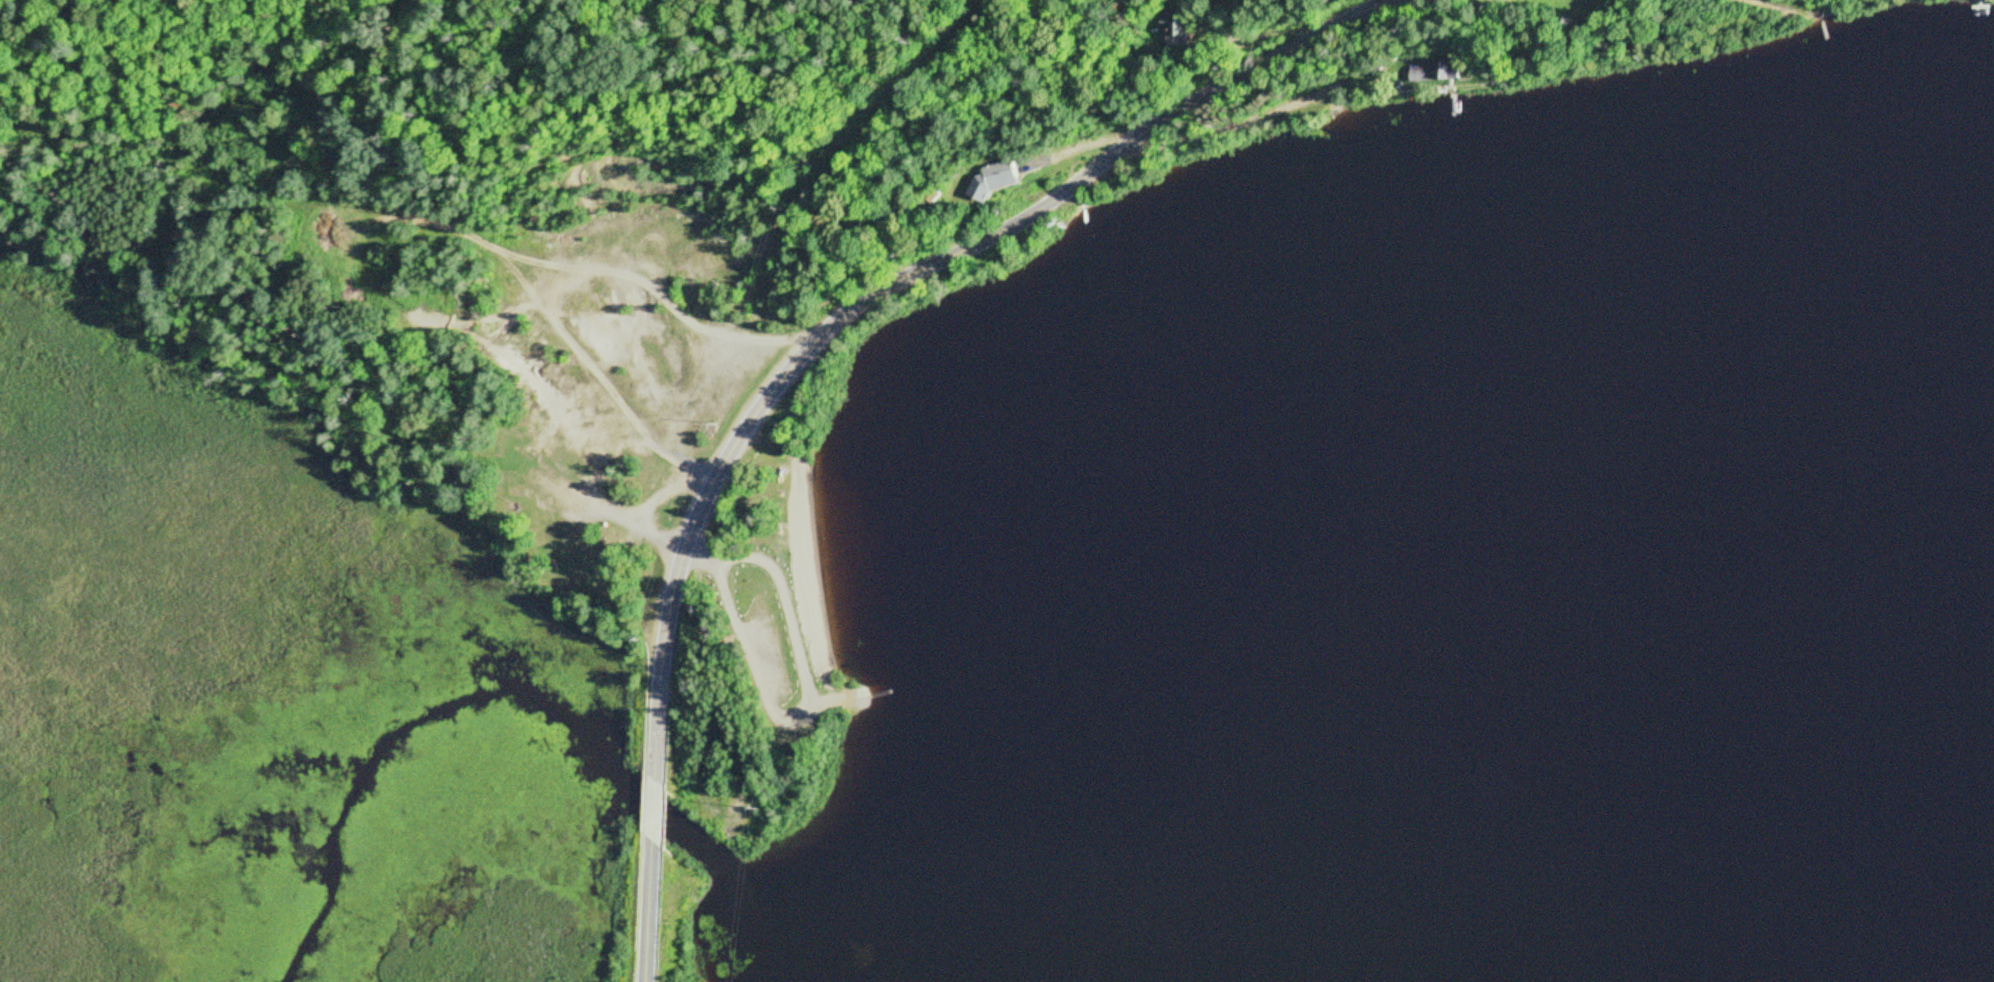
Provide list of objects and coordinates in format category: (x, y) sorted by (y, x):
building: (1169, 25)
building: (1412, 75)
road: (1226, 126)
building: (995, 176)
road: (894, 286)
road: (424, 437)
road: (699, 558)
parking lot: (763, 657)
road: (843, 698)
road: (808, 708)
road: (653, 811)
road: (647, 912)

